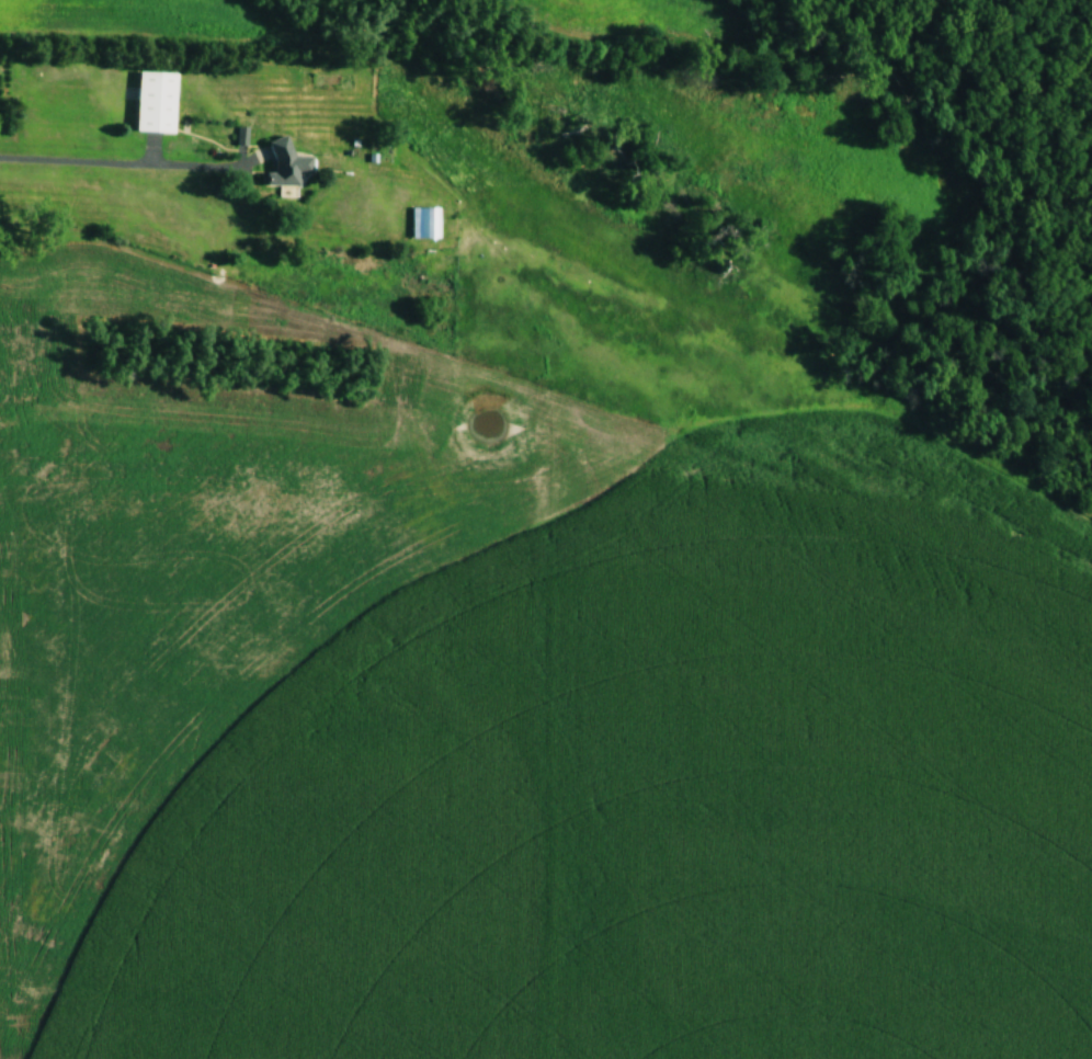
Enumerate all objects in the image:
building: (156, 103)
road: (84, 163)
building: (287, 164)
building: (423, 223)

